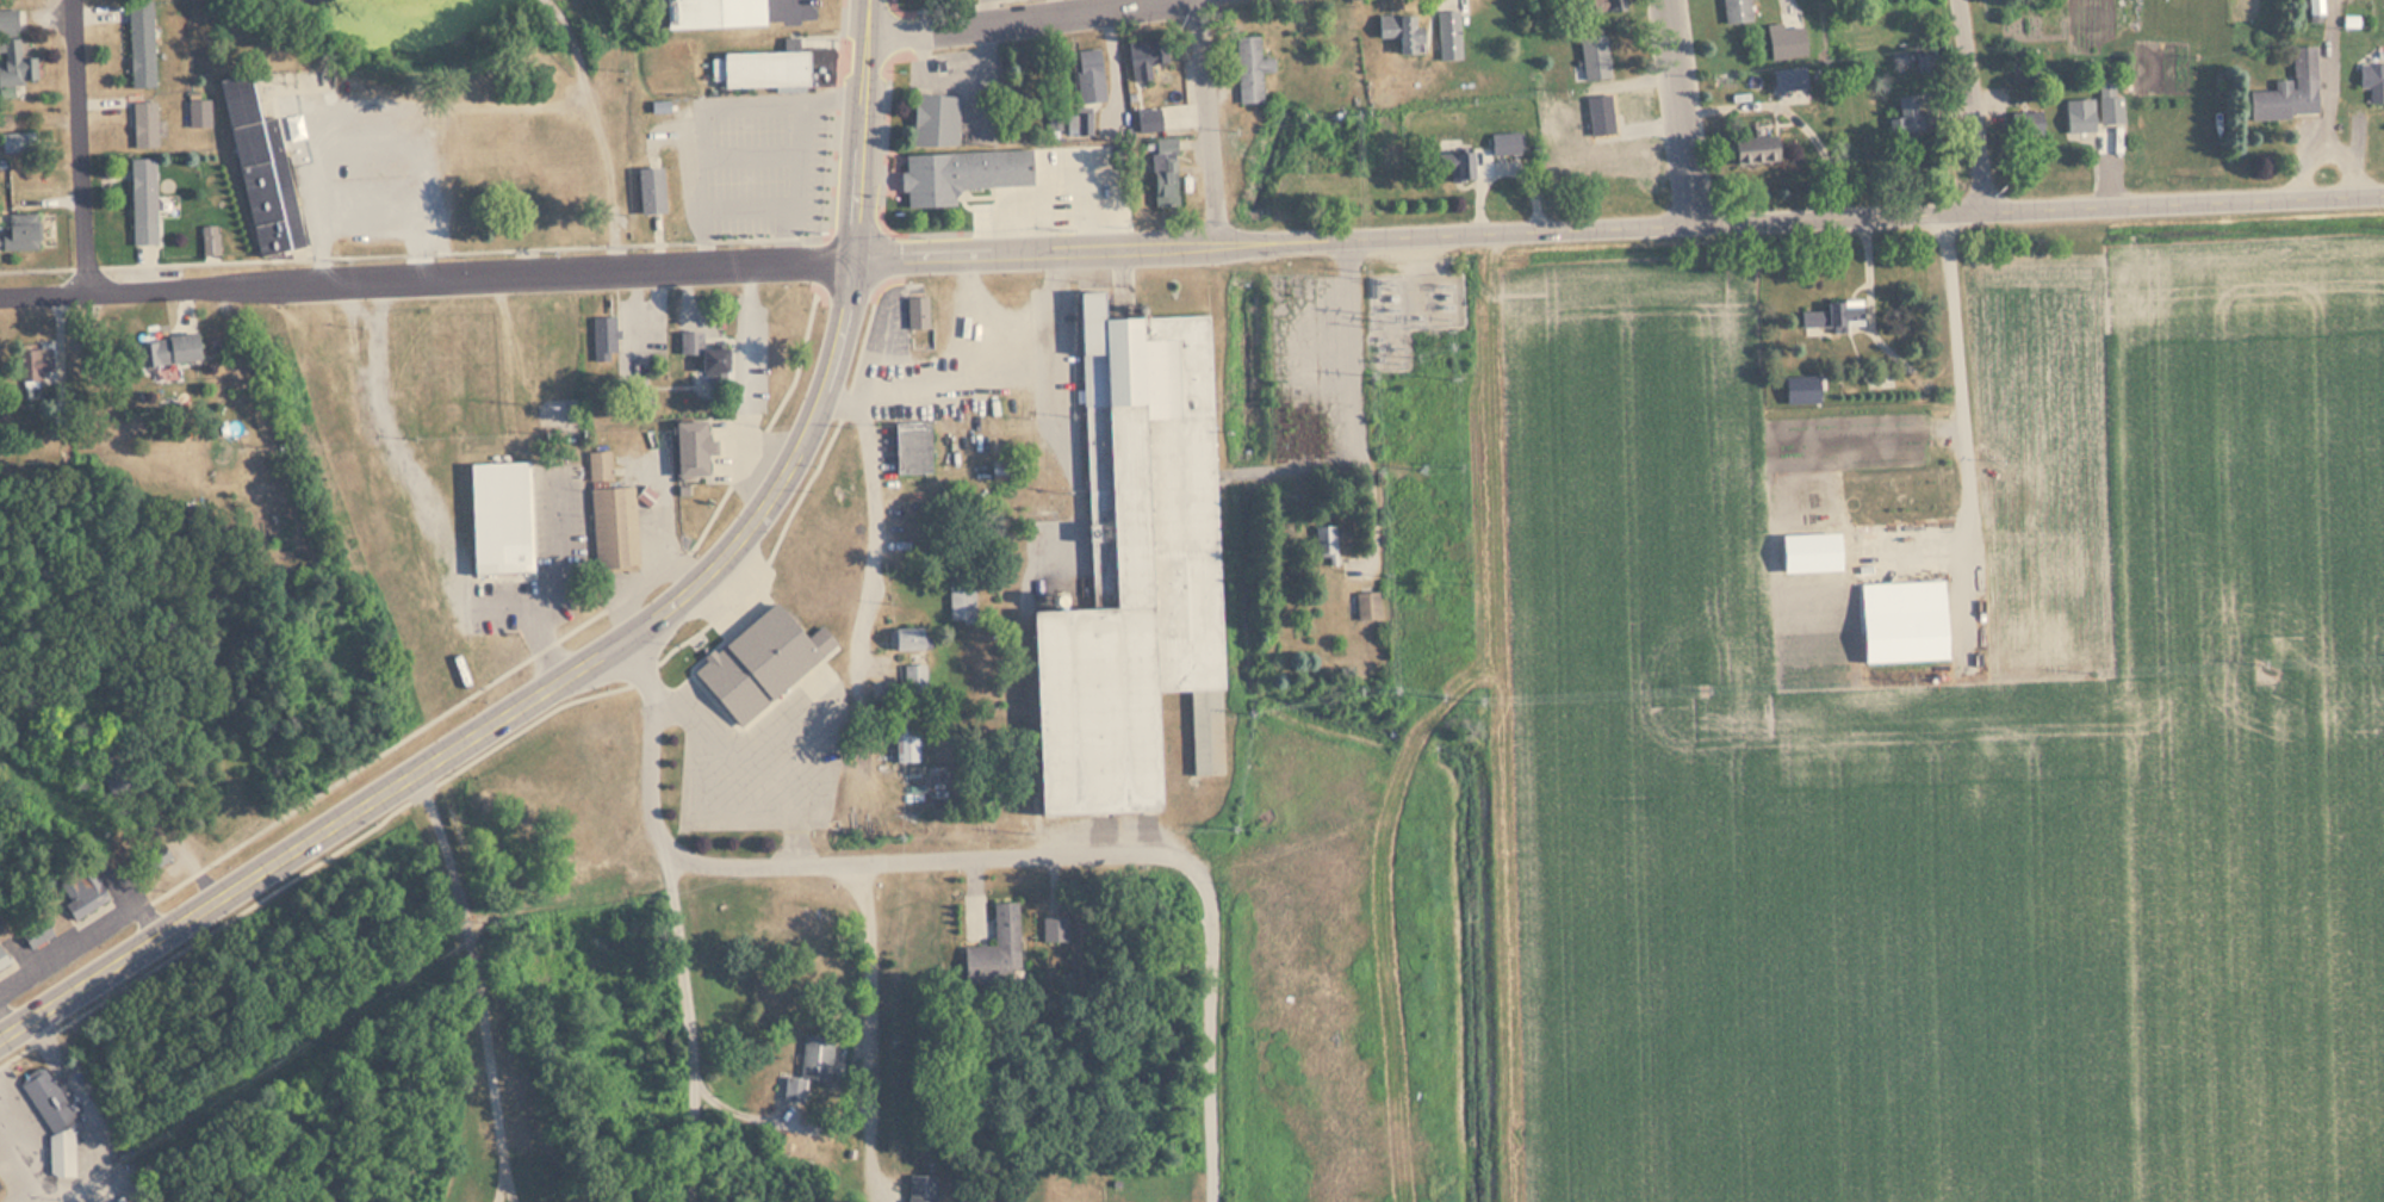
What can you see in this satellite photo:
parking lot: (981, 1)
building: (1609, 5)
road: (788, 6)
building: (2315, 6)
road: (944, 7)
building: (1734, 11)
building: (714, 13)
road: (1016, 18)
building: (8, 21)
building: (1399, 31)
building: (1448, 35)
building: (139, 43)
building: (1143, 56)
building: (1593, 56)
building: (771, 62)
road: (1113, 63)
building: (15, 66)
building: (1247, 68)
building: (1088, 75)
building: (2369, 75)
building: (1788, 79)
building: (2289, 91)
road: (787, 104)
road: (1970, 104)
road: (502, 106)
road: (364, 109)
building: (2110, 110)
building: (197, 112)
road: (1678, 112)
building: (1906, 114)
building: (2078, 116)
road: (1207, 119)
building: (933, 120)
building: (1147, 120)
building: (2030, 123)
building: (142, 124)
building: (2, 125)
road: (596, 128)
building: (18, 142)
road: (81, 143)
building: (1504, 143)
building: (265, 151)
building: (1751, 151)
road: (758, 154)
parking lot: (756, 157)
building: (1454, 165)
parking lot: (370, 171)
building: (1162, 173)
building: (958, 174)
building: (648, 191)
building: (142, 200)
road: (1620, 227)
building: (18, 230)
road: (777, 237)
building: (209, 240)
road: (582, 246)
road: (821, 262)
road: (36, 268)
road: (427, 274)
power substation: (1410, 311)
building: (1832, 315)
building: (917, 320)
road: (868, 326)
building: (604, 336)
road: (1880, 341)
building: (160, 348)
building: (708, 357)
road: (799, 363)
building: (33, 364)
road: (1941, 378)
building: (1803, 386)
road: (1963, 434)
building: (909, 448)
road: (395, 450)
building: (689, 450)
road: (1310, 458)
building: (598, 466)
road: (802, 490)
building: (1905, 494)
road: (875, 514)
building: (498, 518)
road: (710, 518)
building: (613, 527)
building: (262, 531)
building: (1323, 545)
road: (663, 549)
building: (1814, 550)
road: (1912, 550)
road: (682, 571)
building: (1130, 571)
road: (557, 585)
building: (961, 600)
building: (1365, 605)
road: (501, 607)
building: (1900, 621)
building: (905, 639)
road: (684, 642)
road: (616, 645)
building: (756, 661)
building: (904, 739)
road: (745, 749)
road: (378, 755)
building: (110, 770)
road: (728, 801)
road: (796, 803)
road: (340, 848)
building: (155, 855)
road: (1000, 855)
building: (80, 891)
building: (993, 928)
building: (1054, 928)
building: (33, 931)
road: (87, 933)
building: (2, 956)
road: (478, 971)
road: (688, 1020)
road: (873, 1021)
road: (6, 1022)
road: (15, 1055)
building: (808, 1064)
building: (52, 1119)
road: (783, 1123)
road: (89, 1124)
road: (18, 1150)
building: (920, 1188)
road: (501, 1189)
road: (508, 1189)
road: (23, 1191)

